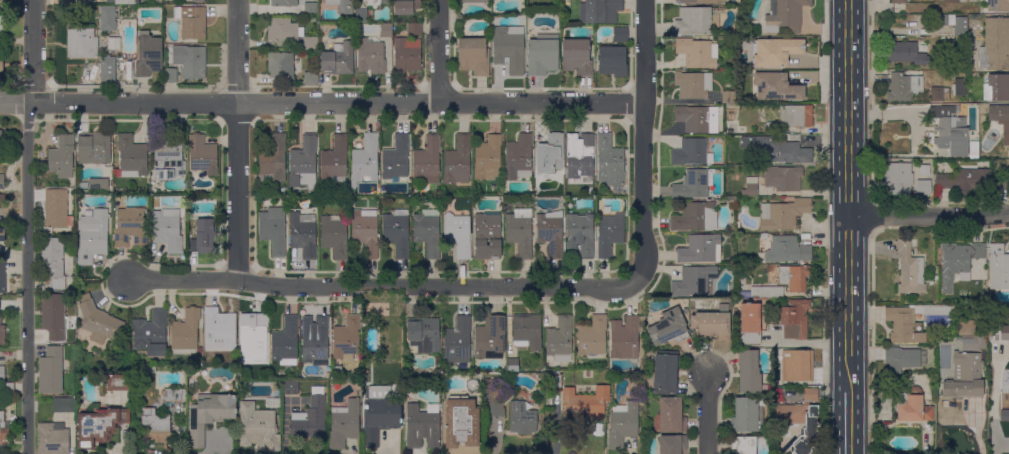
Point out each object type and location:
building: (166, 0)
building: (197, 0)
building: (122, 1)
building: (474, 1)
building: (698, 1)
building: (898, 1)
building: (950, 1)
building: (283, 2)
building: (376, 2)
building: (342, 5)
building: (998, 5)
building: (406, 6)
building: (310, 8)
building: (599, 11)
building: (0, 14)
building: (786, 14)
building: (361, 15)
building: (108, 18)
building: (943, 20)
building: (191, 21)
building: (695, 21)
building: (1, 27)
building: (960, 27)
building: (414, 29)
building: (282, 30)
building: (386, 30)
building: (753, 30)
building: (620, 34)
building: (81, 43)
building: (114, 43)
building: (311, 43)
building: (995, 45)
building: (509, 48)
road: (439, 51)
building: (775, 51)
building: (697, 53)
building: (905, 53)
building: (407, 54)
building: (542, 54)
building: (148, 55)
building: (371, 55)
building: (473, 56)
building: (576, 56)
building: (338, 59)
building: (612, 61)
building: (1, 64)
building: (194, 64)
building: (281, 65)
building: (0, 66)
building: (108, 68)
building: (170, 74)
road: (847, 76)
building: (311, 78)
building: (693, 85)
building: (775, 86)
building: (903, 86)
building: (958, 87)
building: (996, 87)
building: (939, 93)
building: (728, 97)
road: (322, 103)
building: (796, 116)
building: (700, 119)
building: (1001, 120)
building: (950, 130)
building: (1, 137)
road: (236, 140)
road: (642, 140)
building: (93, 148)
building: (779, 148)
building: (973, 150)
building: (691, 152)
building: (549, 154)
building: (203, 155)
building: (62, 156)
building: (131, 157)
building: (518, 157)
building: (335, 159)
building: (366, 159)
building: (488, 159)
building: (167, 160)
building: (273, 160)
building: (396, 160)
building: (427, 160)
building: (458, 160)
building: (582, 160)
building: (304, 164)
building: (610, 164)
building: (924, 169)
building: (108, 171)
building: (897, 179)
building: (775, 180)
building: (964, 180)
building: (2, 181)
building: (1001, 183)
building: (693, 184)
road: (848, 184)
building: (98, 185)
building: (923, 187)
building: (284, 189)
building: (195, 192)
building: (195, 195)
building: (731, 200)
building: (2, 201)
building: (721, 201)
building: (56, 209)
building: (783, 214)
road: (928, 216)
building: (695, 217)
road: (27, 226)
building: (130, 227)
building: (168, 228)
building: (365, 231)
building: (273, 232)
building: (396, 232)
building: (427, 232)
building: (520, 232)
building: (550, 232)
building: (458, 233)
building: (2, 234)
building: (303, 234)
building: (581, 234)
building: (609, 234)
building: (334, 235)
building: (93, 236)
building: (487, 236)
building: (204, 237)
building: (700, 249)
building: (783, 249)
building: (52, 262)
building: (958, 262)
building: (732, 267)
building: (998, 267)
building: (910, 269)
building: (2, 277)
building: (794, 277)
building: (693, 281)
road: (386, 287)
building: (767, 292)
building: (728, 300)
road: (848, 304)
building: (53, 315)
building: (795, 319)
building: (98, 321)
building: (910, 322)
building: (712, 324)
building: (750, 324)
building: (668, 327)
building: (966, 328)
building: (219, 329)
building: (527, 331)
building: (185, 332)
building: (997, 332)
building: (152, 333)
building: (424, 333)
building: (2, 334)
building: (253, 335)
building: (592, 336)
building: (490, 337)
building: (314, 338)
building: (347, 338)
building: (624, 338)
building: (560, 339)
building: (285, 340)
building: (458, 341)
building: (947, 342)
building: (980, 342)
building: (900, 359)
building: (512, 365)
building: (797, 365)
building: (143, 369)
building: (51, 371)
building: (749, 372)
building: (1, 373)
building: (666, 373)
building: (538, 376)
building: (964, 377)
building: (118, 382)
building: (555, 383)
building: (290, 387)
building: (8, 389)
building: (171, 395)
building: (493, 397)
building: (585, 402)
building: (1008, 402)
building: (63, 405)
building: (911, 405)
building: (540, 407)
road: (706, 411)
building: (379, 414)
building: (1004, 414)
building: (209, 415)
building: (747, 415)
building: (669, 416)
building: (310, 417)
building: (522, 418)
building: (800, 418)
building: (461, 422)
road: (848, 423)
building: (343, 424)
building: (421, 424)
building: (622, 424)
building: (156, 426)
building: (100, 427)
building: (3, 428)
building: (258, 428)
building: (53, 438)
building: (672, 444)
building: (744, 445)

